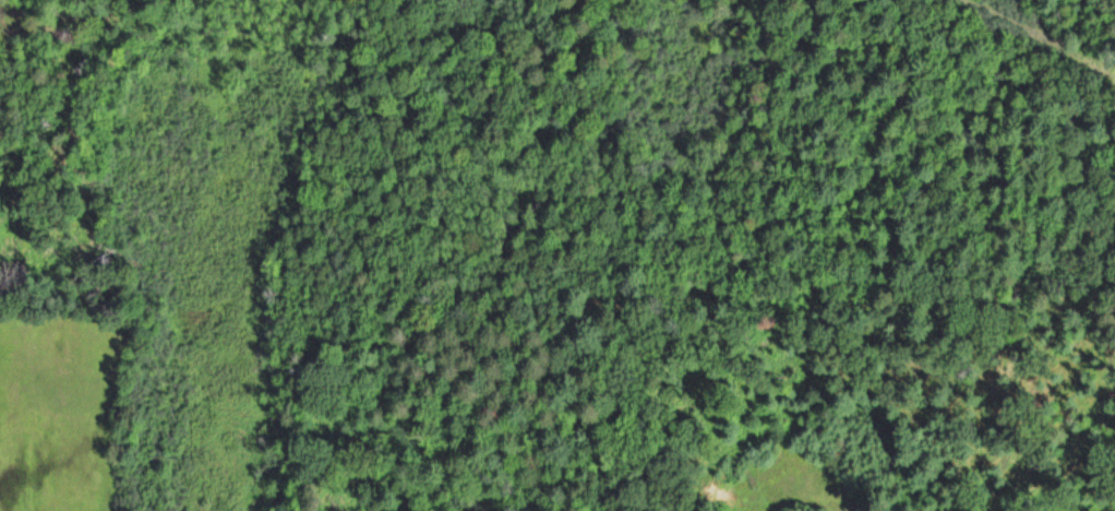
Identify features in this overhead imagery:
railway: (1042, 37)

